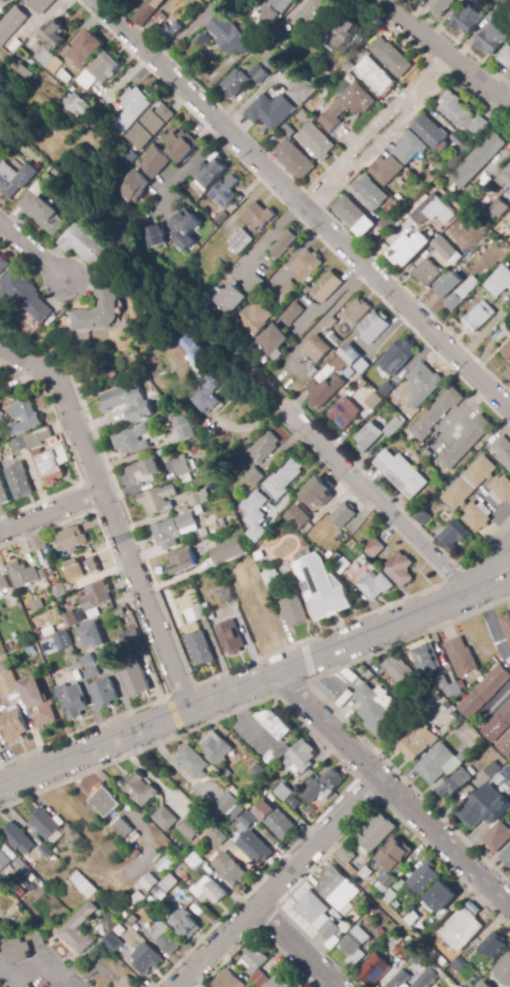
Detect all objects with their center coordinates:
building: (130, 0)
building: (4, 1)
building: (41, 5)
building: (441, 6)
building: (146, 11)
building: (274, 11)
building: (314, 12)
building: (495, 12)
building: (158, 19)
building: (466, 19)
building: (11, 24)
building: (169, 31)
building: (342, 32)
building: (233, 33)
building: (52, 35)
building: (277, 38)
building: (492, 39)
building: (83, 50)
road: (445, 52)
building: (391, 57)
building: (506, 57)
building: (46, 61)
building: (104, 67)
building: (348, 67)
building: (23, 72)
building: (258, 74)
building: (62, 76)
building: (374, 76)
building: (87, 80)
building: (233, 84)
building: (300, 89)
building: (50, 92)
building: (77, 105)
building: (347, 106)
building: (132, 109)
building: (271, 111)
building: (461, 114)
building: (302, 115)
building: (147, 127)
road: (377, 130)
building: (287, 131)
building: (433, 134)
building: (316, 141)
building: (461, 141)
building: (181, 145)
building: (409, 147)
building: (127, 156)
building: (294, 160)
building: (477, 160)
building: (153, 162)
road: (185, 168)
building: (387, 169)
building: (208, 174)
building: (15, 178)
building: (505, 178)
building: (131, 187)
building: (225, 192)
building: (370, 192)
road: (303, 203)
building: (498, 207)
building: (41, 209)
building: (433, 210)
road: (239, 211)
building: (258, 216)
building: (354, 216)
building: (220, 217)
building: (386, 224)
building: (183, 229)
building: (151, 237)
road: (271, 237)
building: (241, 241)
building: (286, 243)
building: (81, 245)
building: (408, 250)
building: (446, 251)
road: (33, 252)
building: (3, 263)
building: (306, 265)
building: (427, 273)
building: (498, 283)
building: (327, 287)
building: (442, 291)
building: (286, 292)
building: (237, 294)
building: (461, 294)
building: (24, 295)
building: (99, 309)
building: (357, 311)
building: (290, 314)
building: (479, 317)
building: (252, 319)
building: (328, 325)
building: (372, 327)
building: (506, 327)
building: (271, 340)
building: (193, 348)
building: (315, 349)
building: (347, 352)
building: (399, 356)
building: (361, 366)
building: (348, 373)
building: (508, 375)
building: (325, 384)
building: (423, 384)
building: (385, 389)
building: (207, 395)
building: (391, 399)
building: (373, 401)
building: (127, 402)
building: (163, 409)
building: (344, 414)
building: (436, 414)
building: (0, 416)
building: (23, 417)
building: (393, 426)
building: (183, 429)
building: (368, 436)
building: (36, 438)
building: (132, 441)
building: (465, 442)
building: (18, 445)
building: (260, 448)
building: (499, 449)
building: (52, 465)
building: (183, 468)
building: (143, 472)
building: (401, 472)
building: (253, 477)
building: (285, 477)
building: (18, 481)
building: (470, 482)
building: (500, 489)
building: (318, 490)
building: (3, 494)
building: (328, 497)
building: (197, 498)
building: (156, 500)
road: (378, 501)
road: (51, 510)
road: (111, 512)
building: (425, 513)
building: (256, 515)
building: (343, 515)
building: (477, 517)
building: (297, 518)
building: (173, 530)
building: (200, 534)
building: (453, 535)
building: (71, 538)
building: (340, 538)
building: (352, 546)
building: (39, 548)
building: (374, 548)
building: (227, 551)
building: (364, 560)
building: (181, 561)
building: (343, 564)
road: (489, 565)
building: (399, 569)
building: (22, 574)
building: (41, 574)
building: (267, 579)
building: (50, 580)
building: (3, 585)
building: (373, 585)
building: (321, 588)
building: (96, 595)
building: (226, 596)
building: (27, 607)
building: (294, 610)
building: (199, 612)
building: (92, 614)
building: (69, 619)
building: (0, 620)
road: (492, 622)
building: (506, 624)
building: (48, 632)
building: (90, 636)
building: (230, 637)
road: (143, 640)
building: (54, 643)
building: (199, 647)
building: (138, 648)
building: (31, 651)
road: (273, 652)
building: (461, 657)
building: (3, 658)
building: (425, 659)
road: (306, 660)
building: (87, 661)
building: (398, 670)
building: (92, 673)
building: (350, 678)
building: (135, 679)
road: (254, 680)
building: (8, 683)
building: (438, 684)
building: (333, 686)
building: (456, 689)
building: (484, 691)
building: (425, 693)
building: (104, 694)
building: (73, 698)
building: (436, 701)
building: (37, 702)
road: (332, 706)
building: (376, 709)
road: (173, 714)
building: (13, 723)
building: (276, 724)
building: (498, 724)
road: (314, 735)
building: (417, 741)
building: (505, 744)
building: (216, 748)
building: (0, 749)
building: (249, 754)
building: (301, 757)
building: (271, 760)
building: (192, 762)
building: (438, 764)
building: (492, 769)
building: (259, 772)
building: (507, 776)
building: (499, 779)
building: (253, 784)
building: (456, 784)
building: (323, 787)
building: (139, 789)
road: (392, 790)
building: (235, 792)
building: (284, 792)
building: (104, 801)
building: (294, 802)
building: (226, 803)
building: (478, 809)
building: (237, 812)
building: (164, 818)
building: (274, 819)
building: (247, 820)
building: (45, 824)
building: (123, 827)
building: (192, 827)
road: (351, 830)
building: (374, 832)
building: (497, 836)
building: (133, 837)
building: (218, 837)
building: (18, 838)
building: (75, 838)
building: (229, 843)
building: (254, 847)
building: (46, 851)
building: (395, 852)
building: (136, 854)
building: (349, 857)
building: (506, 857)
building: (3, 858)
building: (194, 860)
building: (166, 864)
building: (20, 865)
building: (230, 868)
building: (12, 872)
building: (424, 878)
building: (149, 882)
building: (169, 883)
road: (280, 883)
building: (384, 884)
building: (84, 885)
building: (338, 890)
building: (210, 891)
building: (34, 894)
building: (389, 896)
building: (441, 897)
building: (135, 902)
building: (153, 902)
building: (104, 903)
building: (370, 903)
building: (312, 908)
building: (122, 913)
building: (80, 919)
building: (134, 920)
building: (112, 922)
building: (185, 924)
building: (345, 927)
building: (461, 929)
building: (330, 930)
road: (254, 931)
building: (382, 931)
building: (425, 934)
building: (166, 937)
building: (113, 943)
building: (355, 945)
road: (296, 946)
building: (493, 946)
building: (25, 947)
building: (405, 950)
building: (419, 958)
building: (147, 959)
building: (255, 959)
building: (459, 965)
building: (374, 969)
building: (503, 972)
building: (259, 978)
building: (281, 978)
building: (425, 979)
road: (199, 980)
building: (228, 980)
building: (400, 980)
building: (473, 981)
road: (74, 983)
building: (126, 983)
building: (27, 985)
building: (478, 986)

